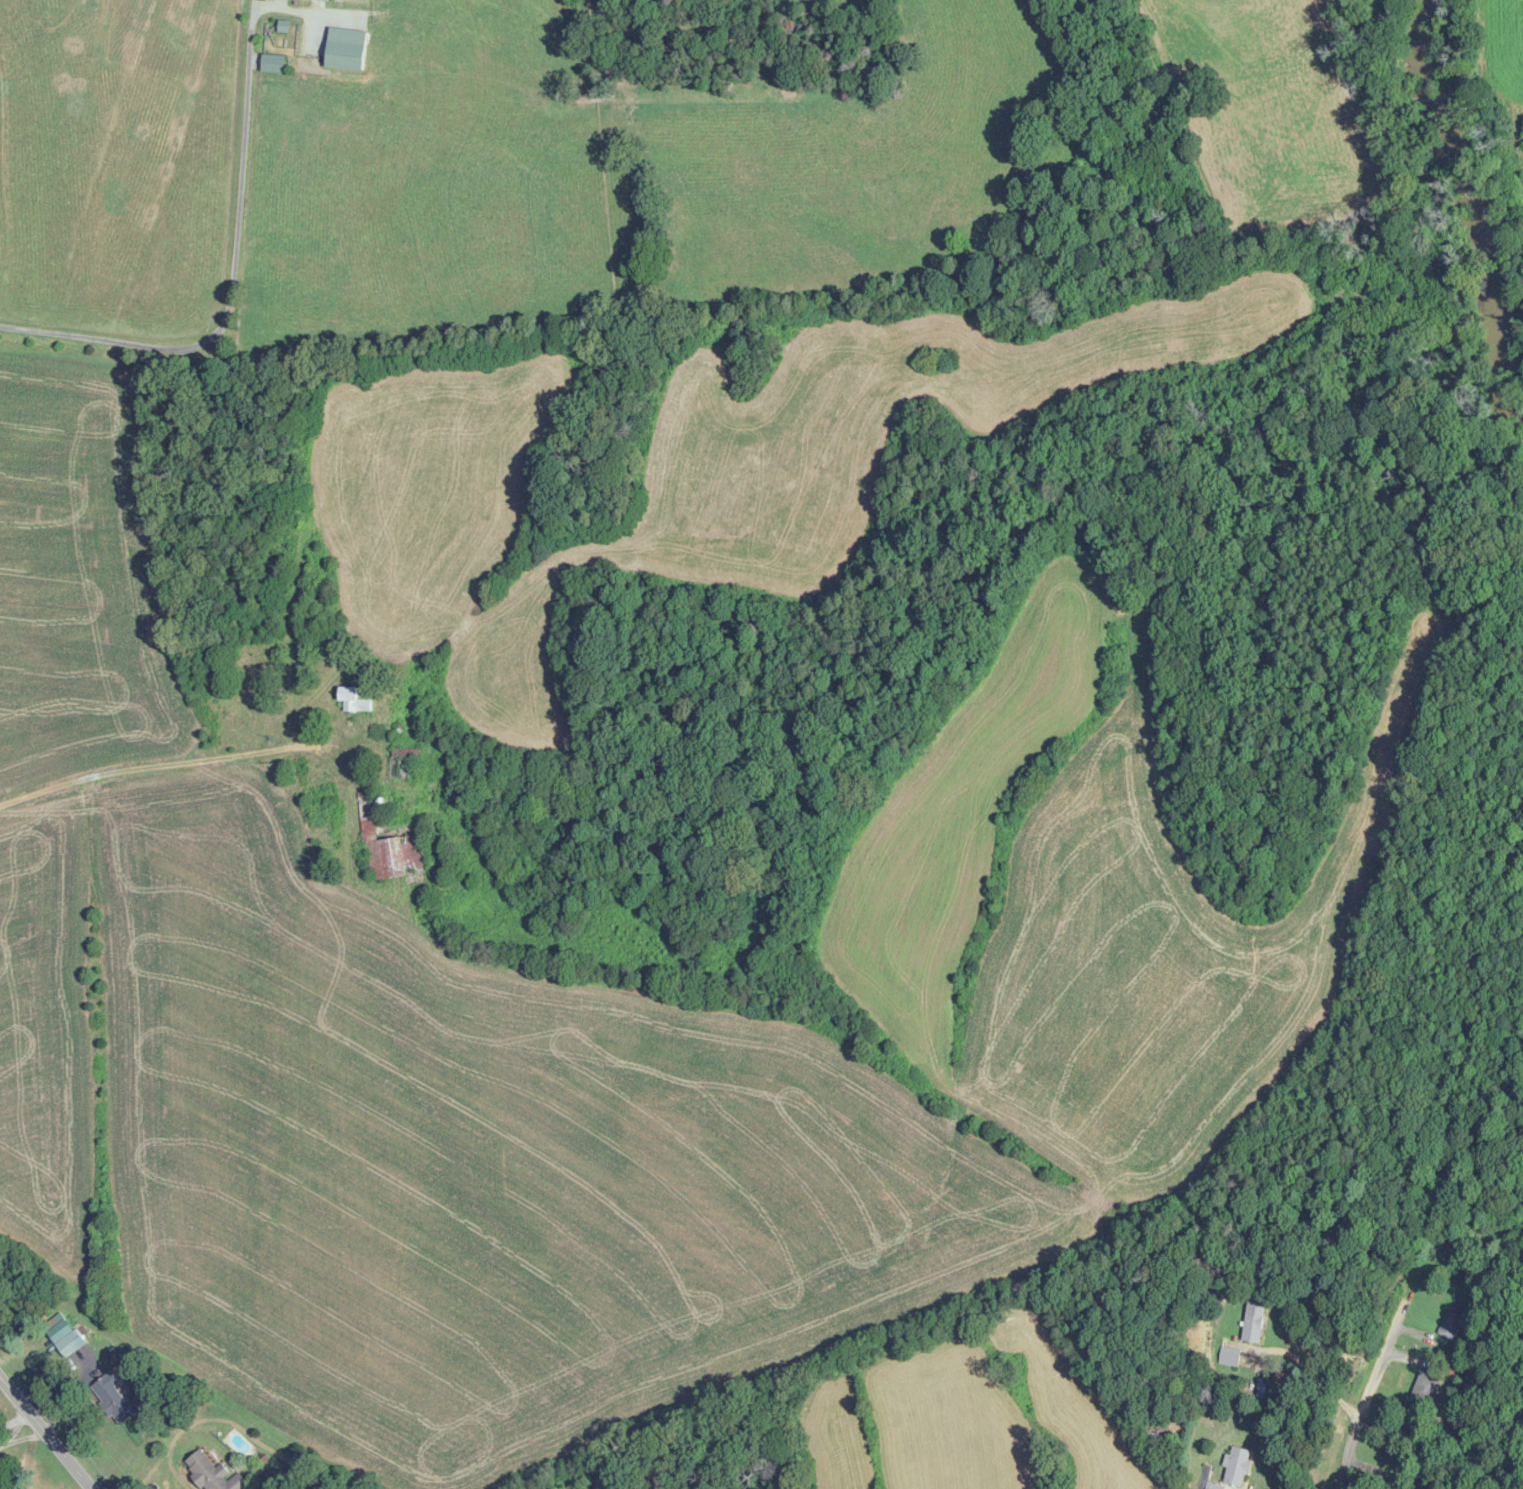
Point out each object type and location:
building: (326, 0)
building: (305, 38)
building: (762, 85)
river: (1446, 223)
road: (232, 279)
building: (352, 701)
road: (190, 763)
building: (387, 846)
road: (1392, 1317)
building: (1254, 1322)
building: (1451, 1322)
building: (71, 1343)
building: (1229, 1356)
road: (1311, 1374)
building: (1425, 1387)
building: (1262, 1388)
building: (113, 1398)
road: (43, 1436)
road: (21, 1440)
building: (1235, 1469)
building: (213, 1474)

